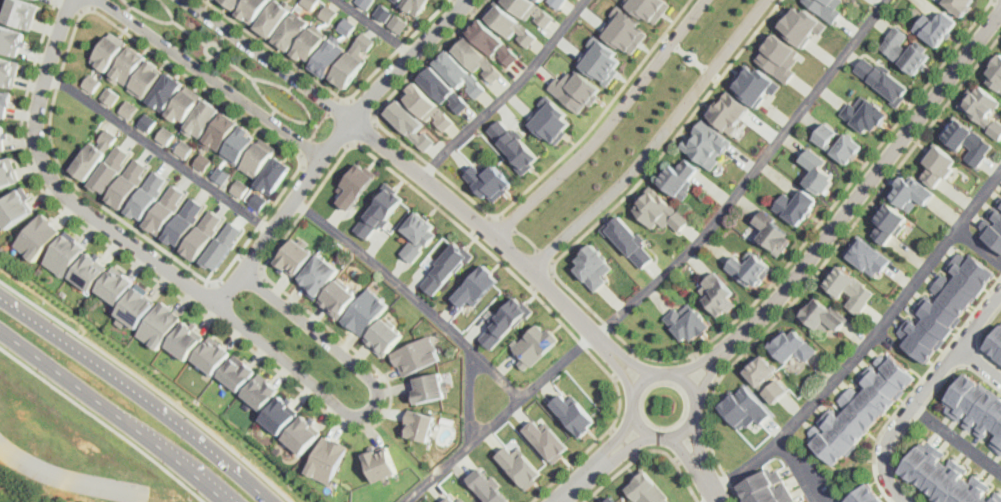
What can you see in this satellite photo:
building: (398, 0)
building: (401, 0)
building: (541, 0)
road: (997, 2)
road: (89, 3)
building: (309, 3)
building: (364, 3)
building: (556, 3)
building: (231, 4)
building: (415, 4)
building: (959, 4)
road: (69, 6)
road: (467, 6)
road: (129, 7)
building: (649, 7)
building: (828, 8)
building: (252, 9)
building: (531, 10)
building: (382, 11)
building: (20, 12)
building: (328, 12)
building: (274, 18)
road: (158, 19)
building: (508, 22)
building: (399, 23)
building: (802, 24)
building: (347, 25)
road: (377, 26)
building: (936, 27)
building: (625, 29)
building: (293, 30)
road: (189, 31)
road: (220, 38)
building: (9, 39)
building: (493, 40)
road: (670, 41)
building: (310, 42)
building: (906, 49)
road: (66, 50)
building: (110, 50)
road: (681, 50)
road: (210, 55)
road: (684, 56)
building: (779, 56)
building: (329, 57)
building: (475, 57)
road: (205, 58)
road: (407, 58)
road: (269, 59)
building: (601, 59)
building: (352, 61)
building: (127, 65)
park: (234, 65)
road: (236, 65)
road: (702, 65)
building: (7, 70)
building: (995, 72)
building: (459, 73)
road: (712, 74)
road: (211, 77)
building: (881, 78)
building: (145, 80)
building: (92, 82)
building: (755, 83)
road: (291, 87)
building: (442, 88)
building: (576, 89)
building: (166, 91)
road: (331, 91)
road: (507, 92)
building: (110, 95)
building: (4, 102)
building: (184, 104)
road: (336, 104)
building: (428, 105)
road: (360, 106)
building: (131, 108)
building: (982, 109)
road: (273, 110)
building: (729, 111)
building: (864, 113)
building: (201, 117)
road: (310, 119)
building: (550, 119)
building: (147, 121)
road: (313, 123)
road: (318, 123)
building: (409, 123)
road: (607, 125)
road: (365, 129)
building: (219, 131)
building: (167, 135)
building: (1, 139)
building: (964, 139)
road: (656, 141)
building: (839, 142)
building: (238, 143)
building: (707, 143)
building: (515, 145)
building: (184, 148)
road: (305, 149)
road: (160, 150)
building: (94, 154)
building: (258, 158)
building: (203, 161)
building: (937, 164)
building: (111, 168)
building: (817, 169)
building: (6, 172)
building: (222, 174)
road: (749, 174)
building: (275, 175)
building: (678, 176)
building: (487, 180)
building: (128, 181)
road: (868, 183)
building: (355, 184)
building: (239, 187)
building: (910, 190)
building: (148, 194)
building: (259, 201)
building: (795, 205)
building: (15, 208)
building: (165, 209)
building: (660, 209)
building: (380, 210)
road: (484, 210)
road: (283, 211)
building: (888, 221)
building: (184, 222)
road: (480, 224)
road: (506, 224)
road: (483, 227)
building: (993, 229)
building: (775, 232)
building: (417, 233)
building: (38, 235)
building: (202, 235)
road: (527, 237)
building: (628, 239)
building: (222, 246)
road: (978, 246)
building: (4, 249)
building: (65, 254)
building: (866, 254)
building: (295, 257)
road: (545, 257)
road: (824, 263)
building: (446, 265)
building: (591, 265)
building: (749, 269)
building: (91, 271)
building: (320, 275)
road: (541, 279)
building: (117, 285)
building: (475, 286)
building: (848, 288)
road: (412, 292)
building: (720, 294)
building: (340, 297)
road: (216, 304)
building: (946, 304)
building: (137, 306)
building: (368, 312)
building: (823, 315)
building: (506, 321)
building: (687, 321)
road: (324, 323)
building: (161, 324)
building: (385, 337)
building: (187, 339)
road: (868, 340)
building: (994, 343)
building: (792, 344)
building: (535, 345)
building: (418, 354)
building: (213, 356)
road: (661, 359)
road: (632, 360)
road: (702, 360)
road: (980, 362)
road: (626, 364)
road: (707, 367)
road: (620, 369)
road: (62, 371)
road: (711, 371)
building: (237, 374)
building: (766, 374)
road: (917, 383)
road: (150, 385)
building: (428, 385)
building: (262, 390)
road: (922, 392)
road: (138, 395)
road: (469, 395)
building: (746, 406)
building: (859, 408)
building: (977, 409)
building: (576, 414)
building: (280, 415)
road: (500, 417)
road: (104, 422)
building: (420, 425)
building: (268, 426)
building: (304, 434)
road: (661, 435)
road: (619, 436)
road: (957, 438)
building: (547, 439)
road: (625, 441)
road: (700, 445)
road: (631, 446)
road: (647, 449)
road: (694, 450)
road: (689, 455)
road: (181, 458)
building: (328, 458)
building: (382, 462)
building: (520, 464)
road: (801, 468)
building: (947, 477)
road: (580, 480)
building: (488, 485)
road: (19, 486)
building: (767, 487)
building: (649, 489)
road: (714, 489)
building: (865, 495)
road: (712, 497)
building: (452, 499)
building: (613, 500)

